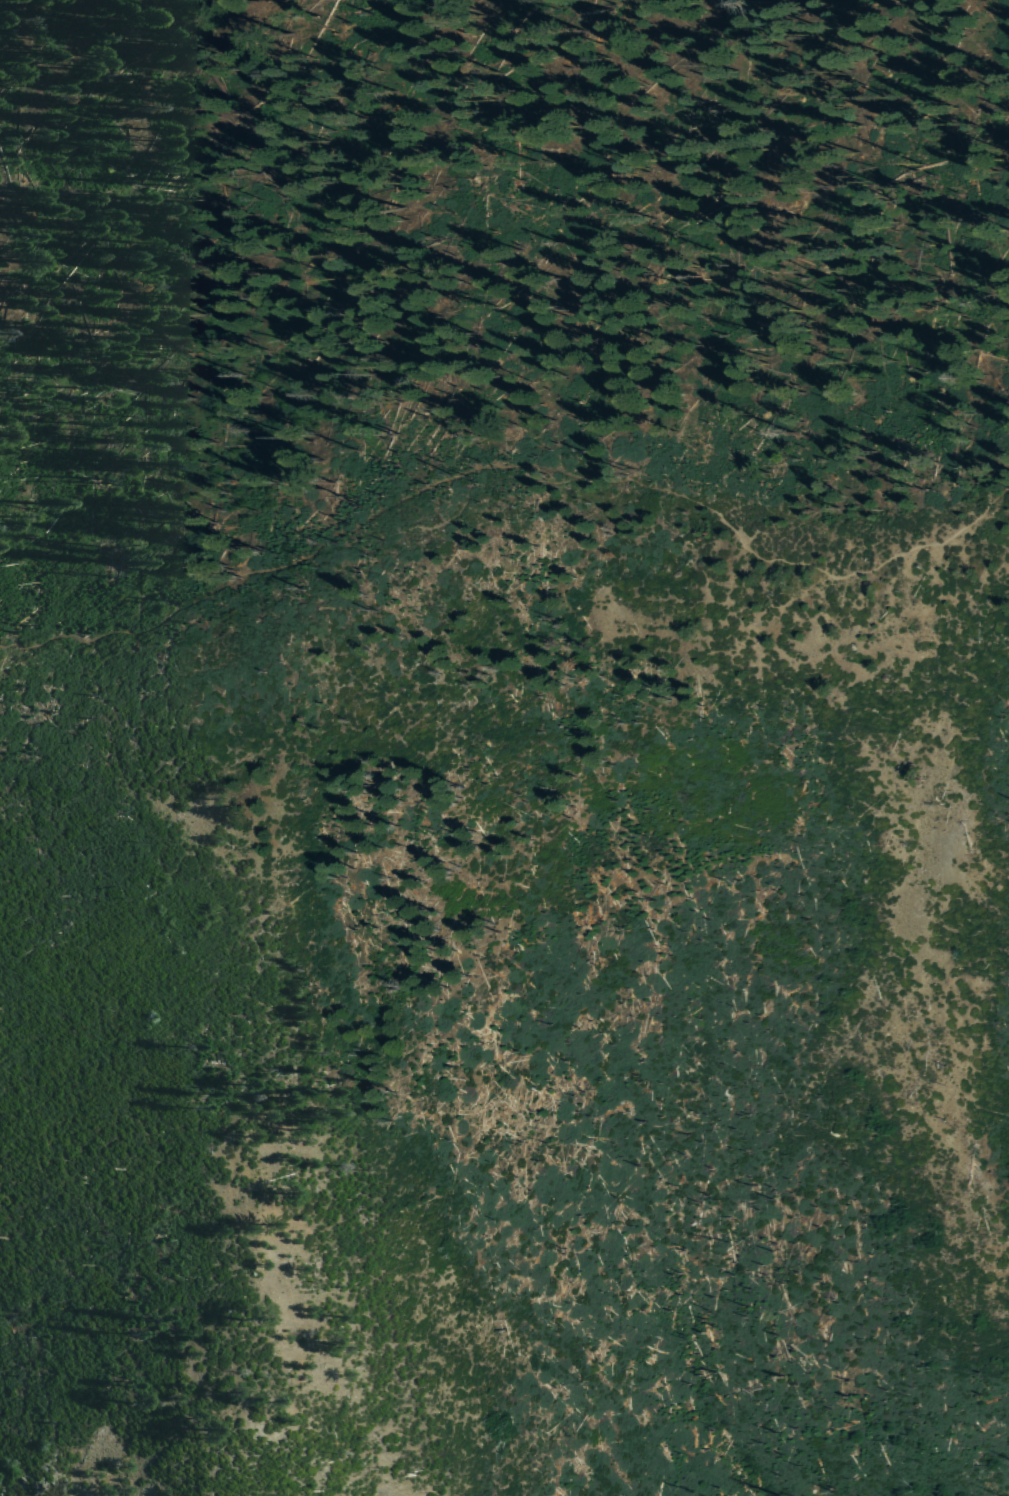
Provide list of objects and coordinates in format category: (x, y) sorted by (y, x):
road: (516, 461)

